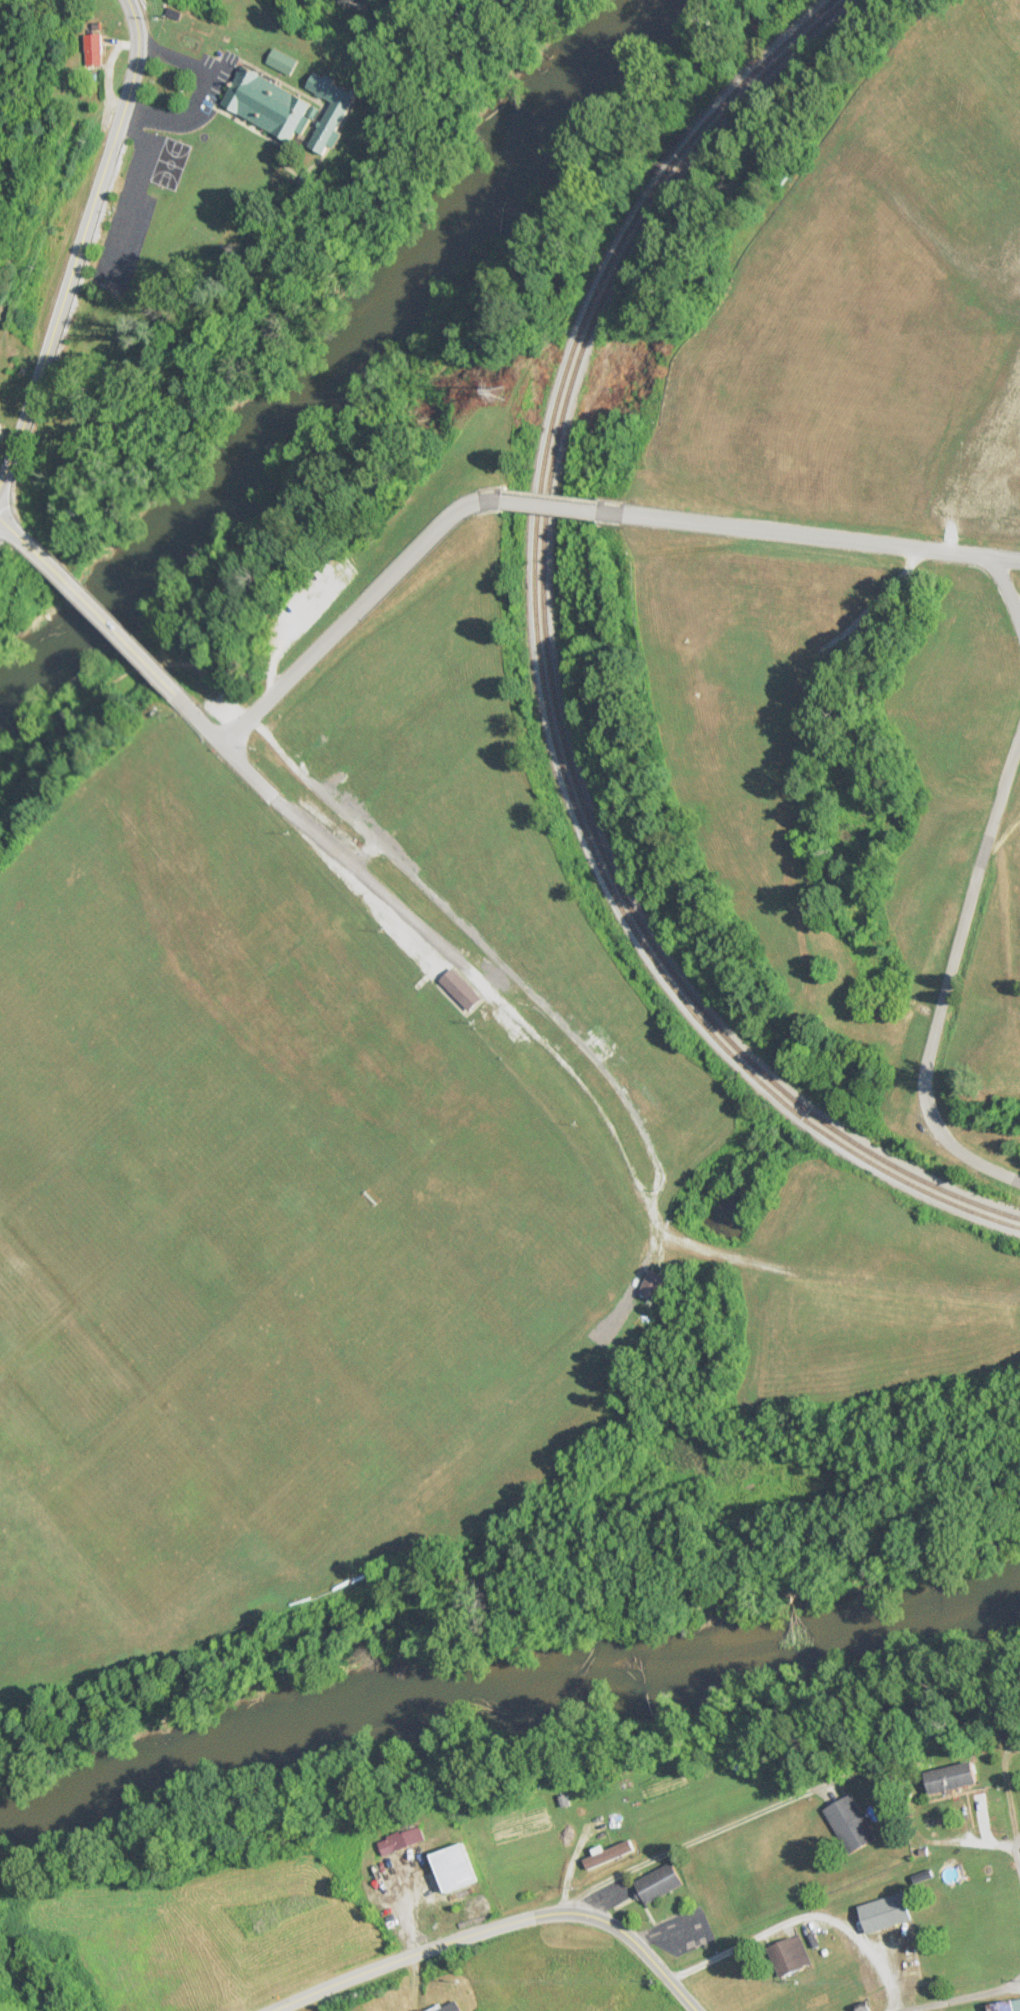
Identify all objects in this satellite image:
building: (94, 49)
building: (268, 104)
building: (332, 106)
road: (79, 238)
road: (532, 315)
river: (341, 359)
power tower: (494, 392)
road: (387, 402)
road: (424, 482)
road: (486, 489)
road: (497, 489)
road: (549, 495)
road: (602, 501)
road: (613, 503)
road: (548, 505)
road: (575, 513)
road: (9, 532)
road: (809, 535)
road: (1006, 592)
road: (298, 617)
road: (93, 618)
road: (328, 636)
road: (187, 663)
railway: (546, 668)
railway: (539, 676)
parking lot: (218, 706)
road: (243, 770)
road: (1013, 775)
road: (306, 783)
road: (999, 924)
building: (635, 931)
park: (551, 941)
road: (945, 974)
building: (456, 988)
road: (528, 994)
road: (541, 1042)
road: (977, 1133)
road: (645, 1262)
building: (649, 1283)
road: (543, 1604)
river: (506, 1689)
building: (951, 1778)
building: (851, 1824)
road: (1014, 1853)
building: (608, 1855)
building: (659, 1883)
building: (885, 1913)
road: (778, 1914)
road: (488, 1923)
building: (790, 1954)
road: (958, 1992)
building: (452, 2006)
building: (1006, 2006)

